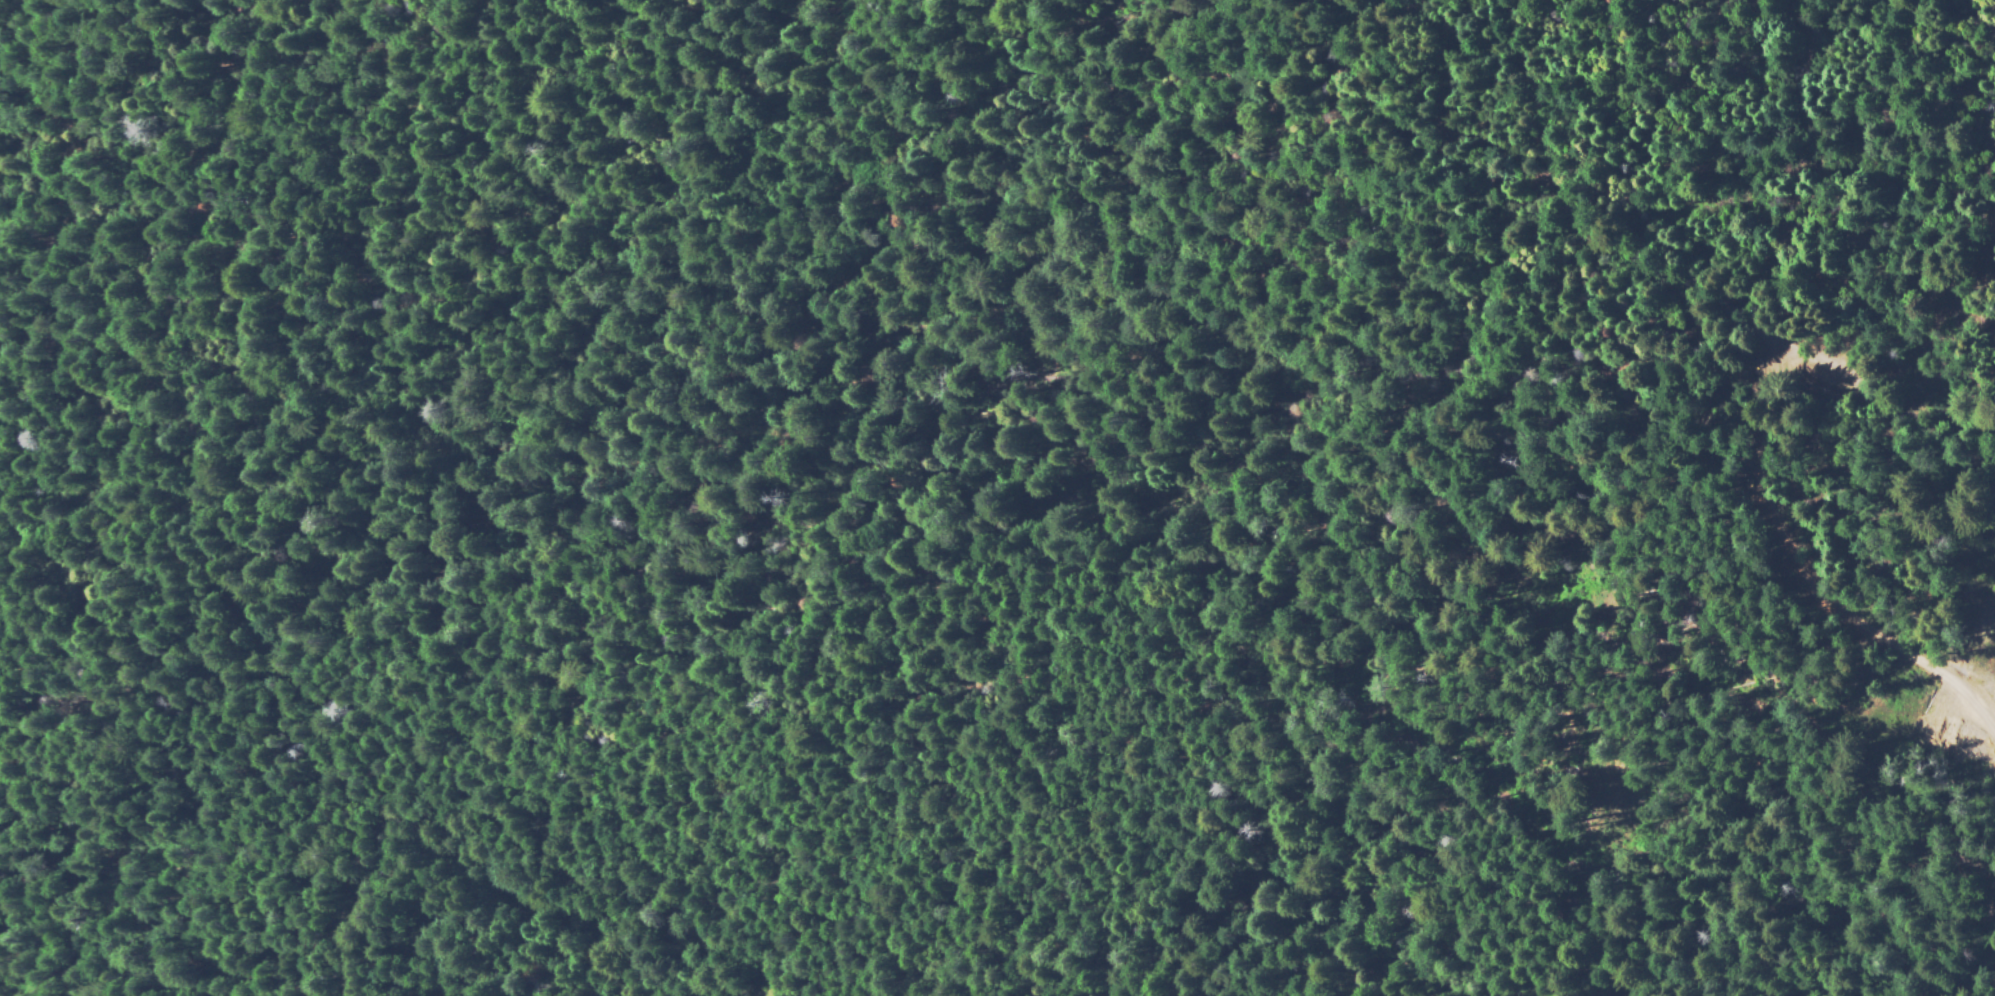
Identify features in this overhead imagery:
road: (1690, 275)
road: (1946, 468)

